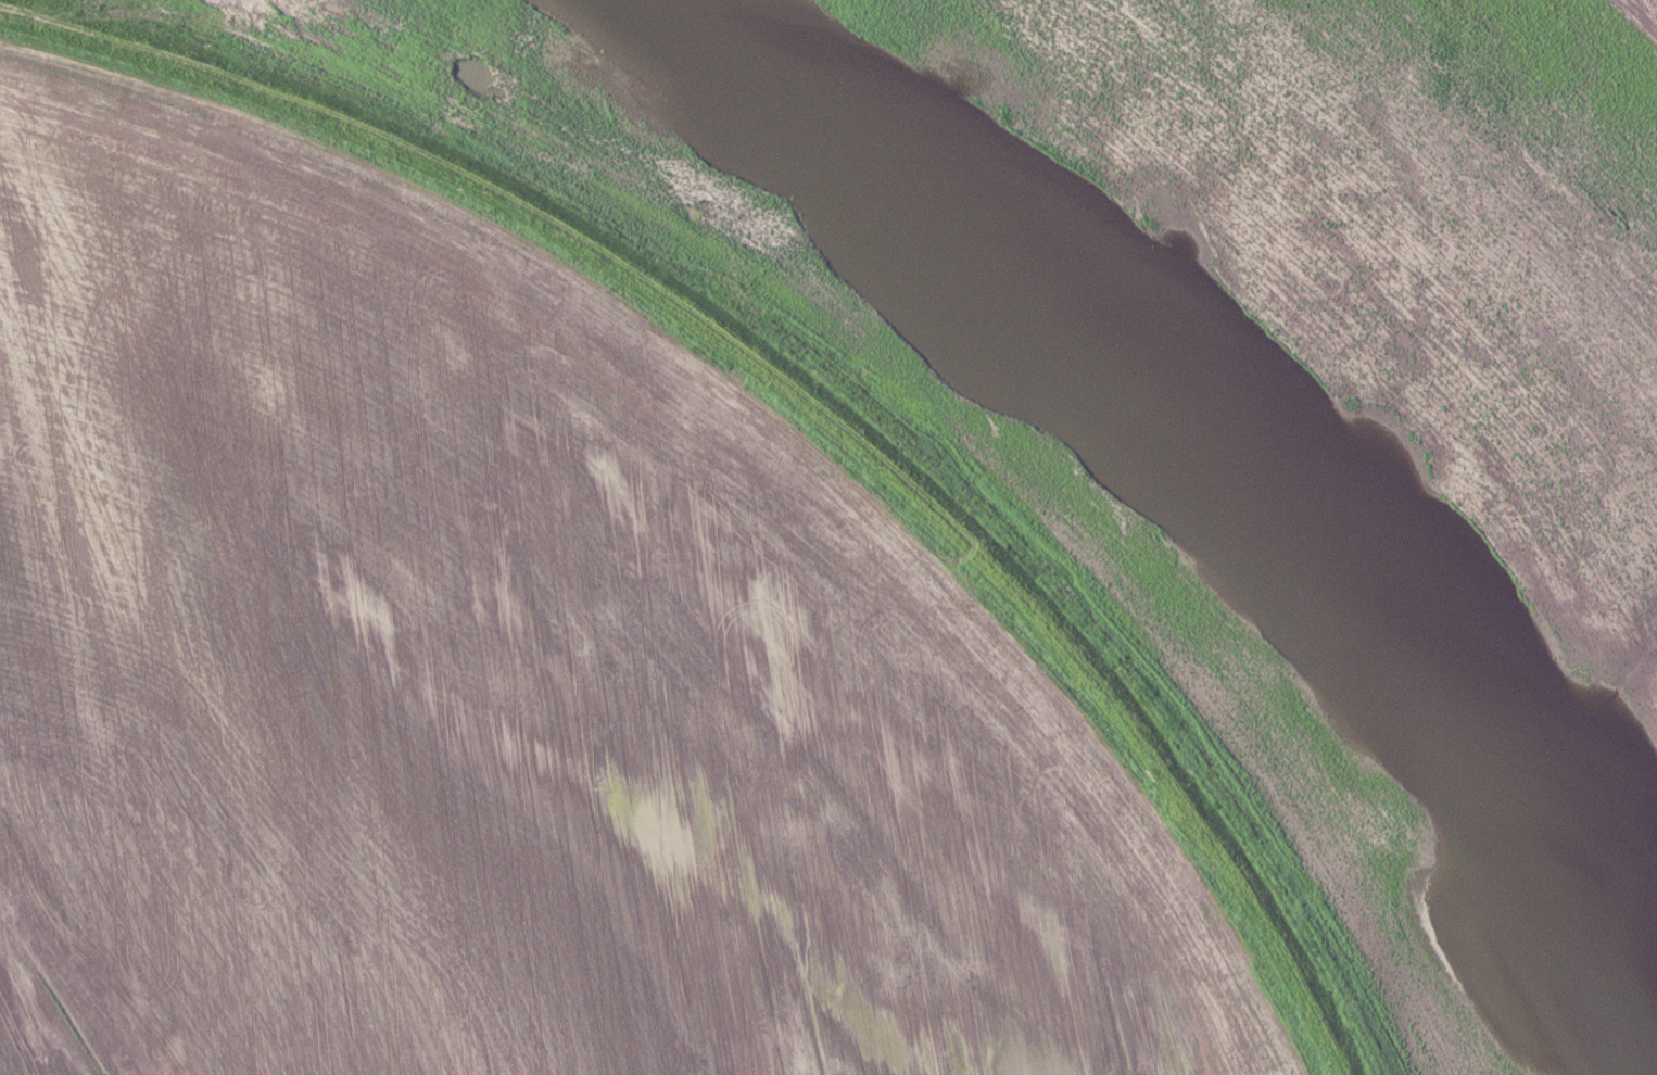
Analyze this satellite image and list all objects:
road: (891, 385)

